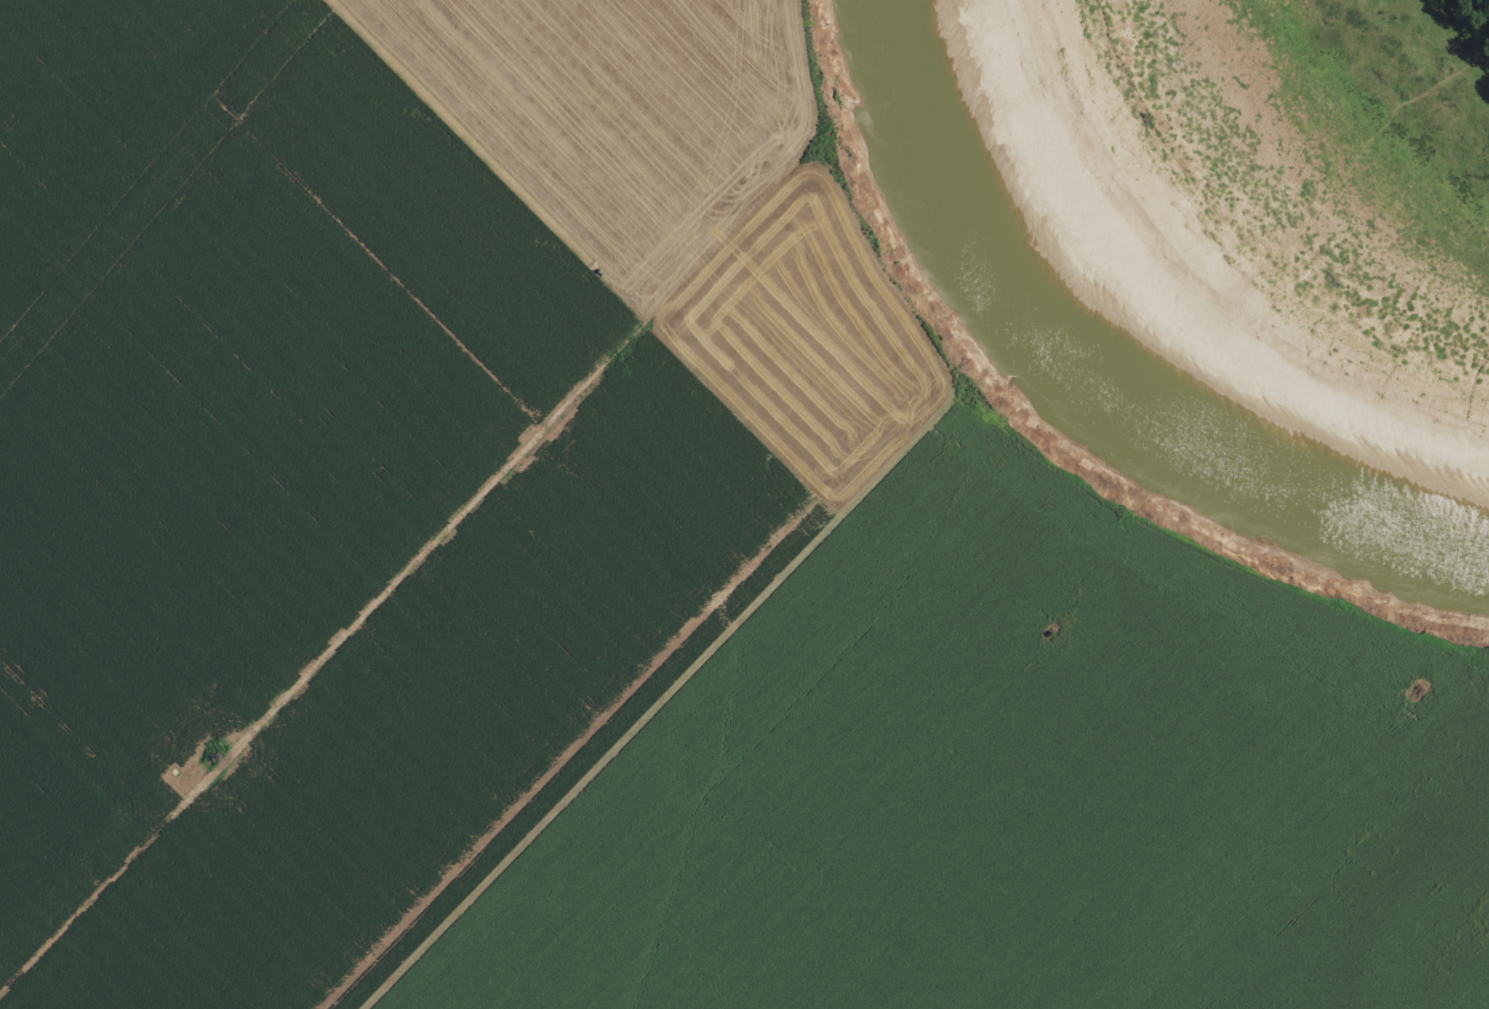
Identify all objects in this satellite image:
river: (1341, 173)

